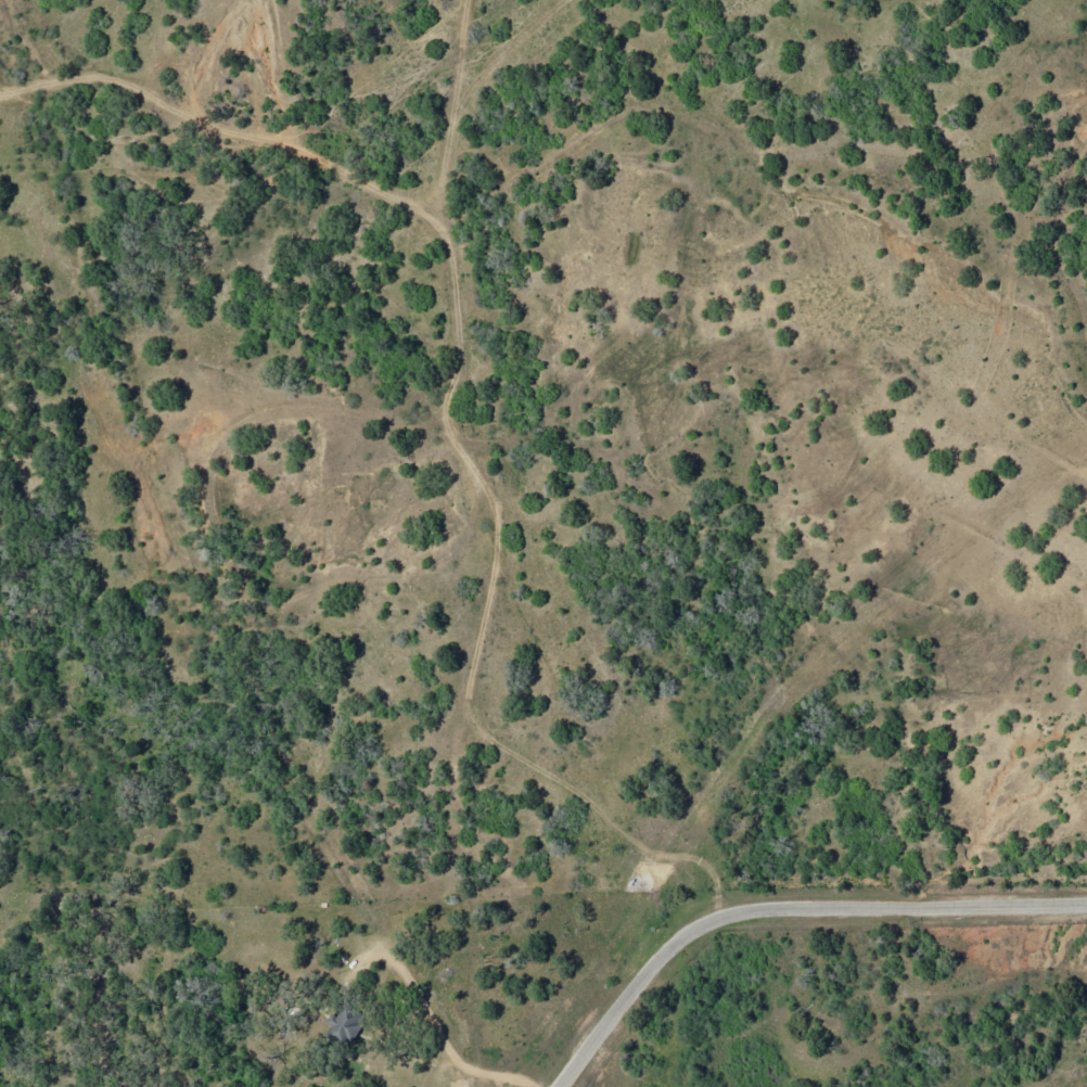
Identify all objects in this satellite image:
road: (784, 906)
building: (344, 1025)

